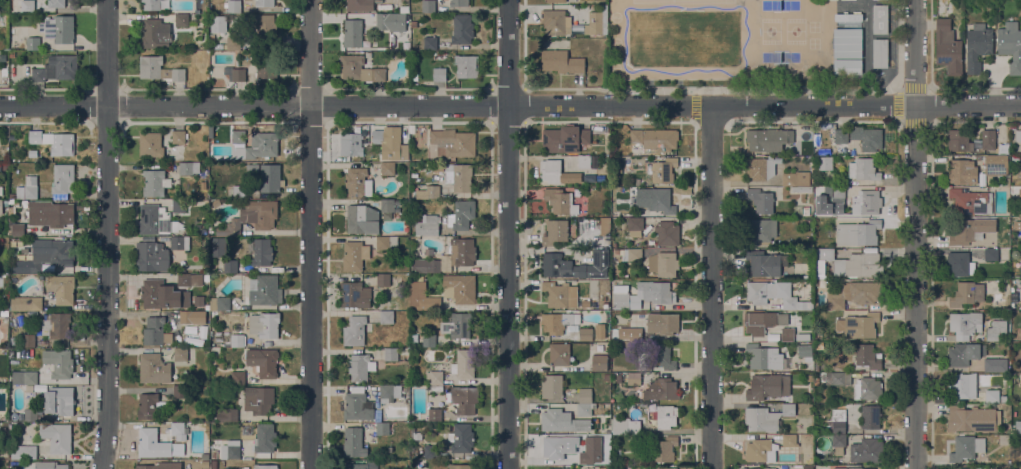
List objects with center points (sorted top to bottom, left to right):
building: (556, 1)
building: (56, 3)
building: (264, 3)
building: (458, 3)
building: (151, 4)
building: (360, 5)
building: (26, 6)
building: (233, 6)
building: (428, 6)
building: (848, 16)
building: (3, 19)
building: (880, 19)
building: (181, 20)
building: (553, 21)
building: (597, 21)
building: (390, 22)
building: (218, 24)
building: (414, 24)
building: (58, 29)
building: (462, 29)
building: (264, 31)
building: (352, 33)
building: (155, 34)
building: (33, 43)
building: (233, 43)
building: (430, 43)
building: (847, 43)
building: (1010, 45)
building: (977, 46)
building: (948, 47)
building: (880, 53)
building: (560, 61)
building: (264, 66)
building: (466, 66)
building: (847, 66)
building: (56, 68)
building: (158, 69)
building: (360, 69)
building: (235, 73)
building: (439, 74)
road: (510, 107)
building: (412, 128)
building: (235, 135)
building: (178, 136)
building: (635, 136)
building: (1018, 136)
building: (12, 137)
building: (565, 138)
building: (867, 138)
building: (768, 139)
building: (840, 139)
building: (988, 139)
building: (659, 141)
building: (959, 141)
building: (54, 142)
building: (391, 143)
building: (453, 143)
building: (150, 144)
building: (351, 144)
building: (258, 147)
building: (584, 161)
building: (825, 163)
building: (997, 163)
building: (5, 167)
building: (0, 168)
building: (188, 168)
building: (761, 168)
building: (387, 169)
building: (662, 169)
building: (863, 169)
building: (962, 171)
building: (557, 172)
building: (267, 176)
building: (458, 176)
building: (796, 178)
building: (63, 181)
building: (155, 183)
building: (357, 183)
building: (26, 189)
building: (801, 189)
building: (239, 192)
building: (430, 192)
building: (838, 193)
building: (1020, 193)
building: (656, 200)
building: (761, 200)
building: (560, 201)
building: (971, 201)
building: (866, 202)
building: (216, 204)
building: (389, 206)
building: (1, 207)
building: (177, 207)
building: (801, 210)
building: (47, 214)
building: (461, 215)
building: (251, 218)
building: (362, 219)
building: (156, 220)
building: (808, 223)
building: (1019, 223)
building: (428, 225)
building: (603, 225)
building: (635, 227)
building: (17, 229)
building: (762, 230)
building: (555, 232)
building: (967, 232)
building: (857, 233)
road: (107, 234)
road: (309, 234)
road: (510, 234)
building: (667, 234)
road: (914, 234)
building: (180, 243)
building: (386, 243)
building: (218, 247)
building: (462, 251)
building: (616, 251)
building: (262, 252)
building: (53, 253)
building: (631, 254)
building: (991, 254)
building: (355, 255)
building: (151, 257)
building: (557, 262)
building: (765, 263)
building: (848, 263)
building: (663, 264)
building: (960, 264)
building: (27, 266)
building: (230, 266)
building: (425, 266)
building: (206, 278)
building: (1020, 278)
building: (196, 279)
building: (383, 279)
building: (183, 280)
road: (711, 287)
building: (61, 288)
building: (460, 288)
building: (266, 289)
building: (416, 289)
building: (656, 292)
building: (560, 294)
building: (769, 294)
building: (855, 294)
building: (967, 294)
building: (162, 295)
building: (355, 295)
building: (621, 297)
building: (999, 300)
building: (199, 301)
building: (26, 303)
building: (220, 303)
building: (426, 303)
building: (802, 305)
building: (4, 313)
building: (186, 317)
building: (387, 318)
building: (764, 321)
building: (558, 322)
building: (663, 323)
building: (206, 324)
building: (965, 324)
building: (264, 325)
building: (457, 325)
building: (858, 325)
building: (56, 326)
building: (996, 330)
building: (155, 331)
building: (354, 331)
building: (600, 332)
building: (586, 334)
building: (635, 334)
building: (788, 334)
building: (803, 336)
building: (29, 340)
building: (237, 340)
building: (429, 340)
building: (804, 350)
building: (963, 353)
building: (181, 354)
building: (391, 354)
building: (559, 354)
building: (662, 356)
building: (867, 356)
building: (764, 357)
building: (263, 362)
building: (59, 363)
building: (600, 363)
building: (464, 364)
building: (994, 365)
building: (361, 367)
building: (614, 368)
building: (154, 369)
building: (607, 376)
building: (30, 377)
building: (238, 377)
building: (15, 378)
building: (619, 378)
building: (836, 378)
building: (436, 379)
building: (634, 379)
building: (552, 386)
building: (768, 386)
building: (962, 386)
building: (867, 388)
building: (436, 389)
building: (662, 389)
building: (180, 391)
building: (389, 393)
building: (992, 395)
building: (585, 396)
building: (1004, 399)
building: (60, 400)
building: (258, 400)
building: (463, 400)
building: (357, 405)
building: (150, 406)
building: (584, 410)
building: (788, 410)
building: (435, 414)
building: (30, 415)
building: (231, 415)
building: (652, 416)
building: (666, 416)
building: (870, 416)
building: (4, 419)
building: (761, 419)
building: (973, 419)
building: (556, 420)
building: (838, 421)
building: (625, 425)
building: (382, 428)
building: (177, 429)
building: (1020, 429)
building: (415, 435)
building: (57, 437)
building: (461, 438)
building: (264, 440)
building: (789, 440)
building: (354, 442)
building: (152, 443)
building: (839, 443)
building: (606, 446)
building: (553, 447)
building: (966, 448)
building: (662, 449)
building: (760, 450)
building: (867, 450)
building: (230, 451)
building: (430, 451)
building: (23, 452)
building: (616, 452)
building: (214, 453)
building: (586, 458)
building: (214, 464)
building: (49, 465)
building: (362, 465)
building: (156, 466)
building: (265, 466)
building: (460, 466)
building: (619, 467)
building: (560, 468)
building: (666, 468)
building: (759, 468)
building: (860, 468)
building: (954, 468)
building: (972, 468)

